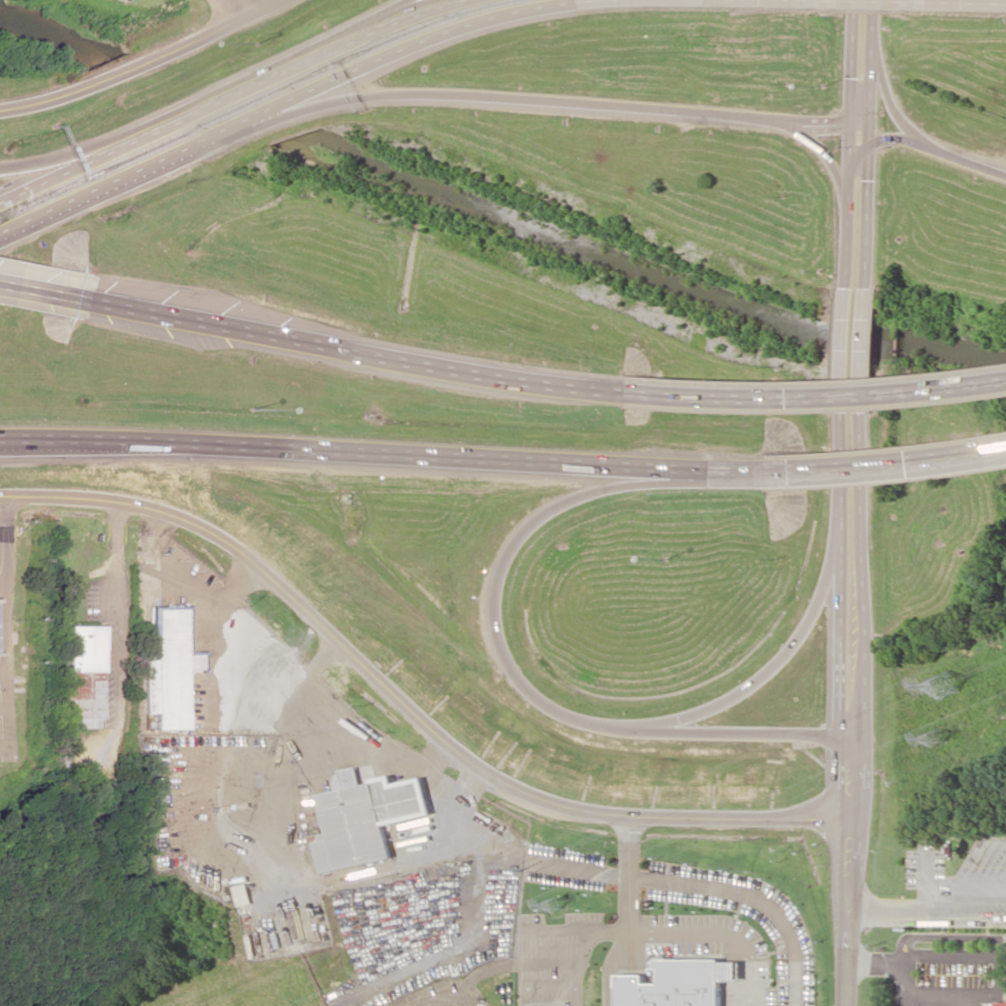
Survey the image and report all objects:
road: (755, 0)
road: (884, 3)
road: (258, 5)
road: (994, 6)
road: (864, 16)
river: (58, 36)
road: (322, 49)
road: (142, 62)
road: (230, 97)
road: (288, 100)
road: (543, 102)
road: (897, 116)
traffic signals: (861, 138)
road: (57, 158)
road: (860, 159)
road: (933, 159)
road: (832, 167)
road: (42, 293)
road: (856, 348)
road: (348, 351)
road: (810, 398)
road: (354, 457)
road: (858, 468)
road: (418, 632)
road: (775, 659)
building: (168, 670)
road: (516, 678)
building: (82, 680)
power tower: (942, 685)
road: (404, 705)
road: (846, 708)
power tower: (934, 739)
building: (366, 818)
power tower: (518, 871)
road: (705, 886)
building: (243, 898)
power tower: (554, 905)
road: (631, 914)
road: (661, 930)
building: (679, 983)
building: (998, 1004)

